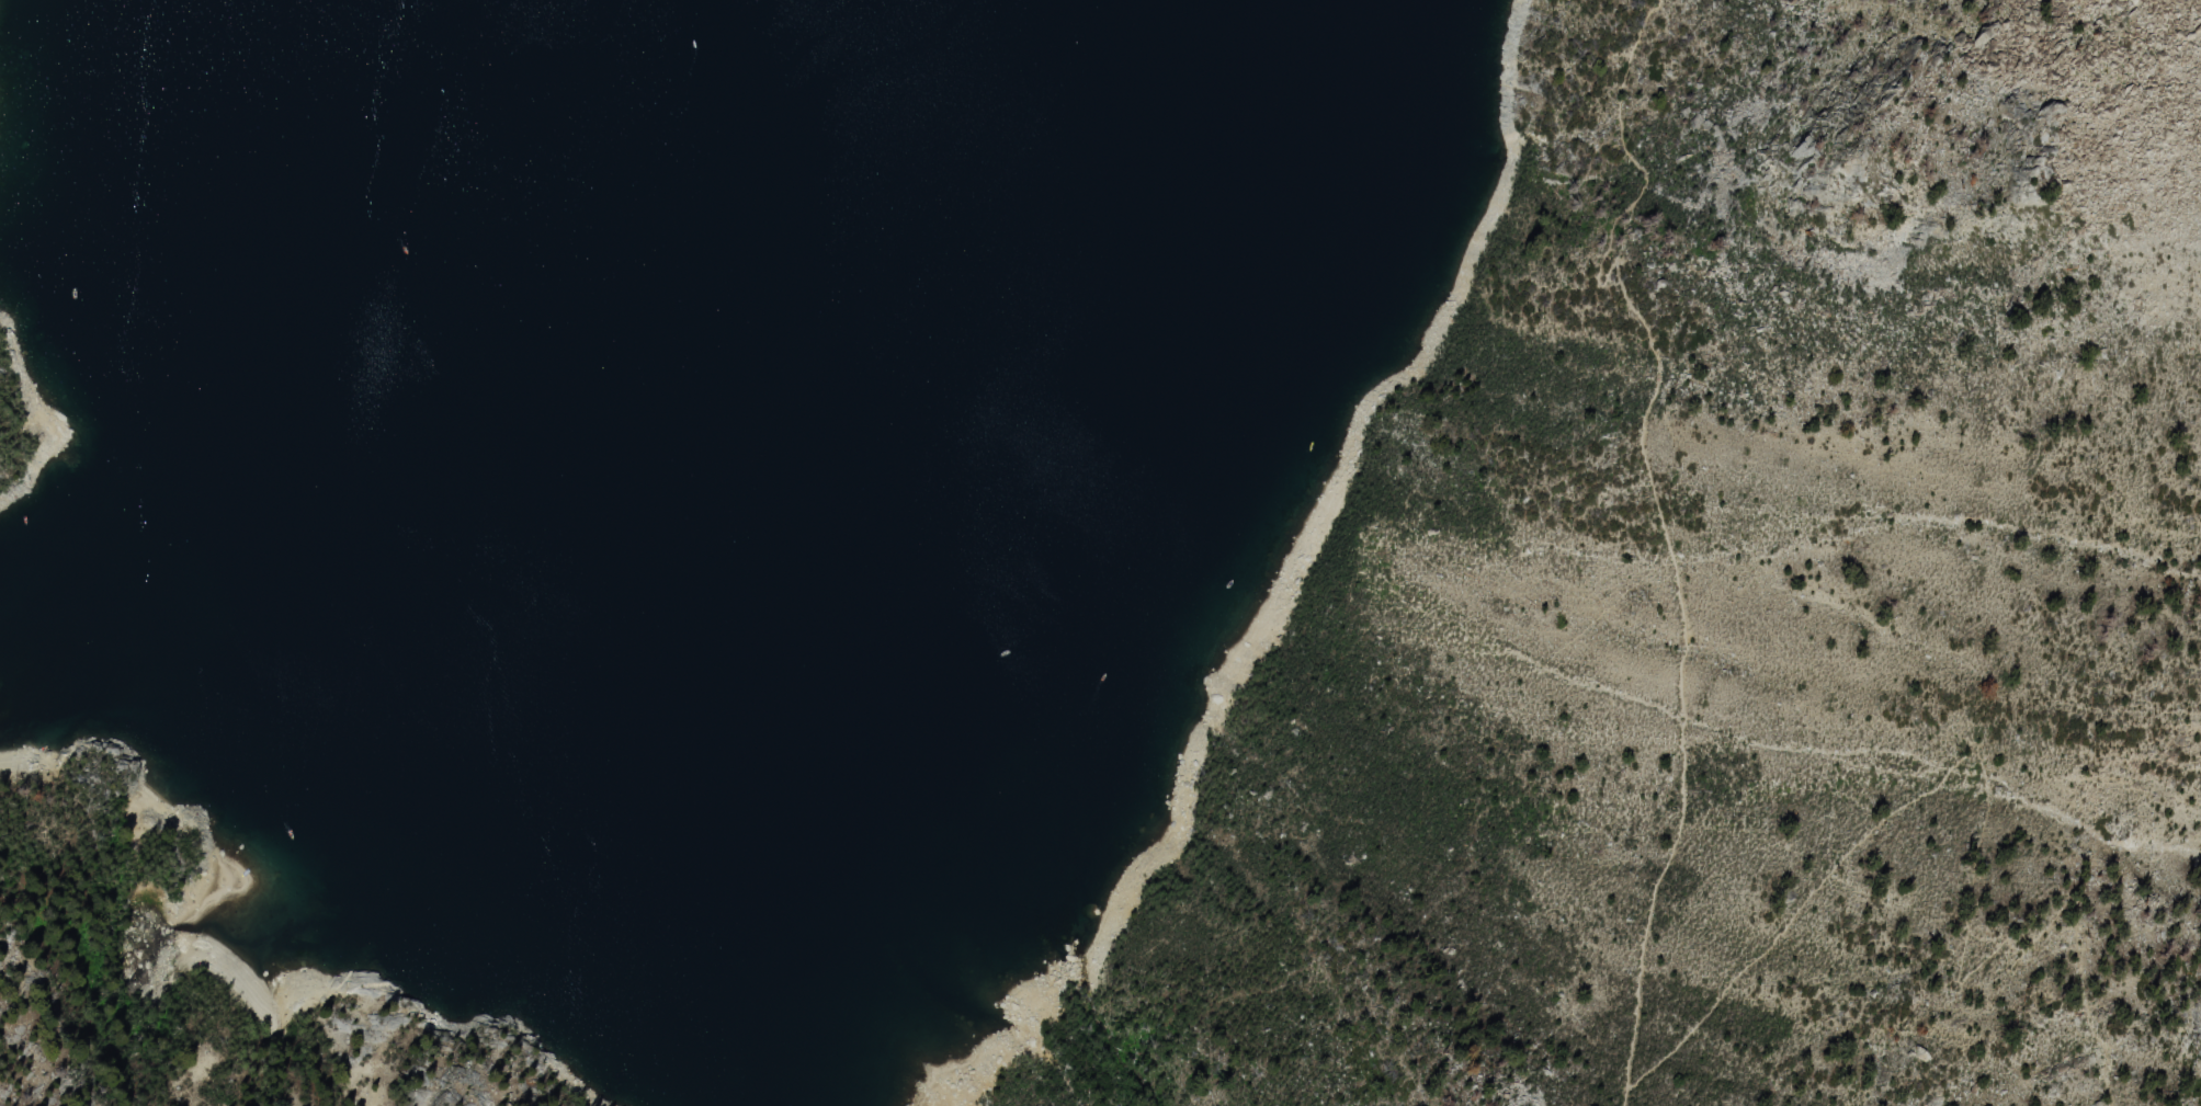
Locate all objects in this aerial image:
road: (1659, 508)
road: (1984, 818)
road: (1629, 1096)

